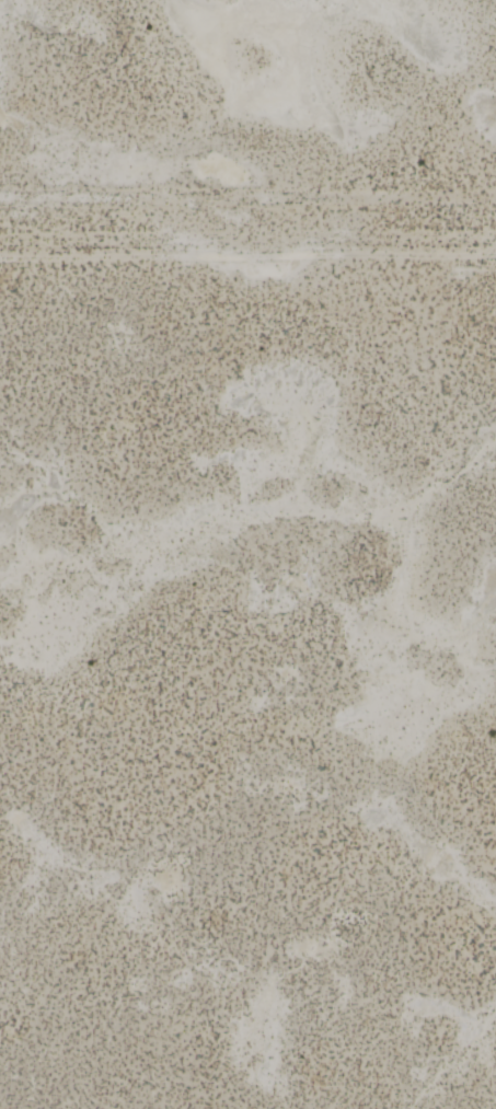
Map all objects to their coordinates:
airport: (247, 683)

